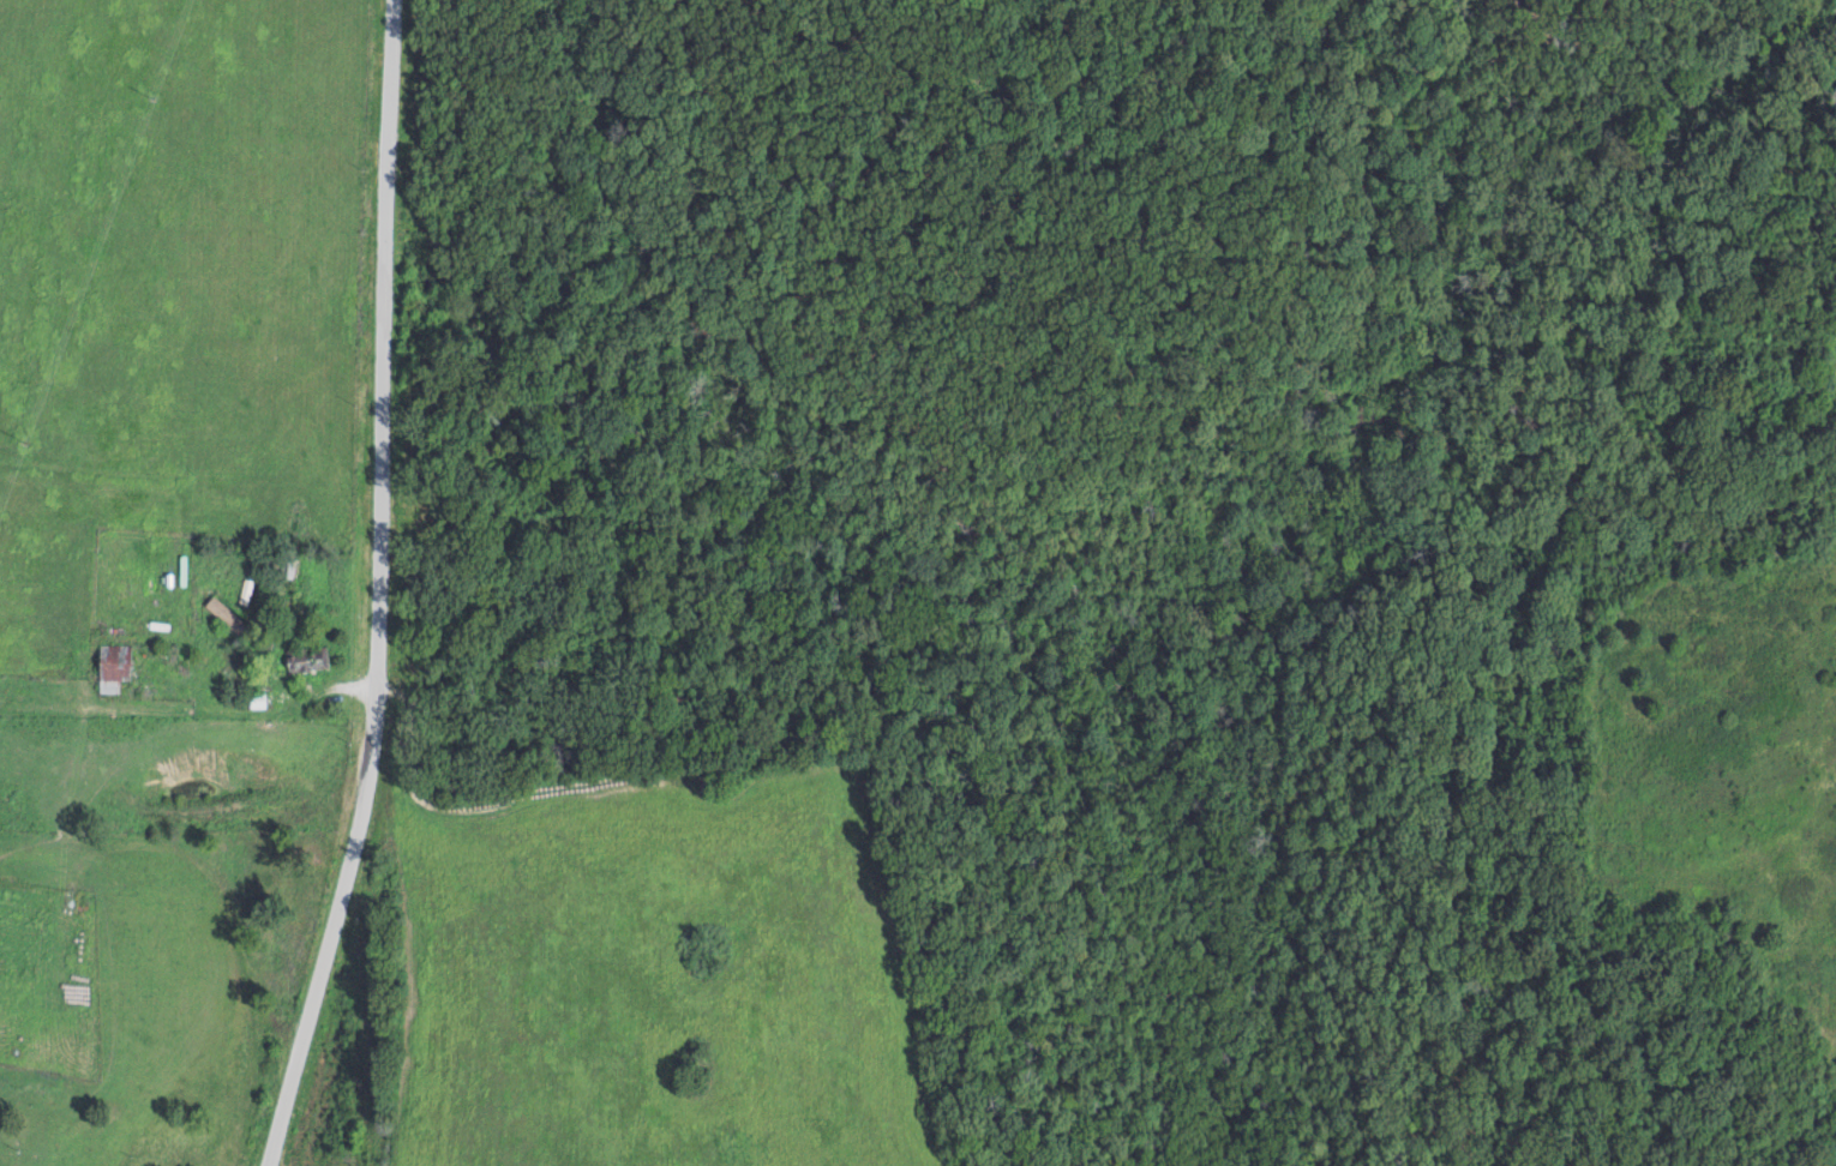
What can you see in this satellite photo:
road: (367, 584)
building: (223, 615)
building: (306, 660)
building: (113, 666)
road: (180, 692)
road: (50, 849)
road: (67, 922)
road: (238, 924)

